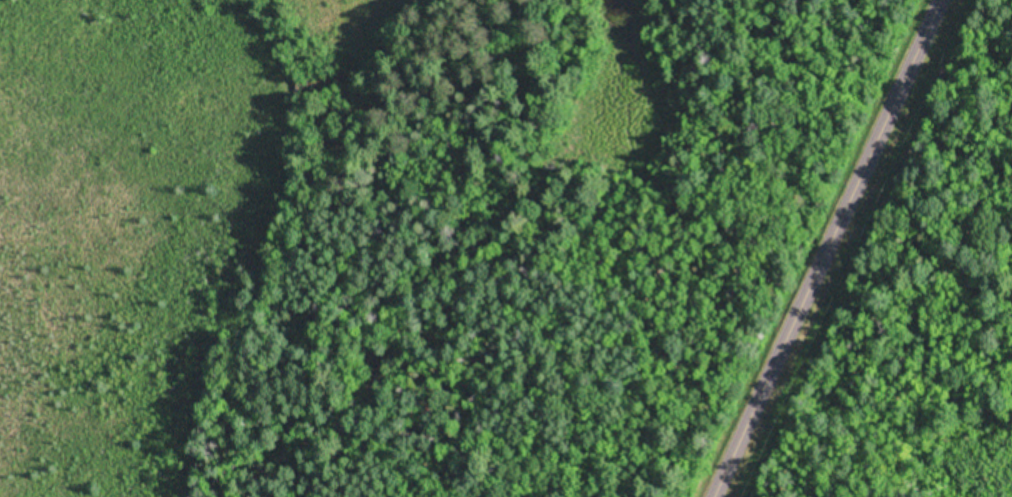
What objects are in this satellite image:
road: (829, 248)

